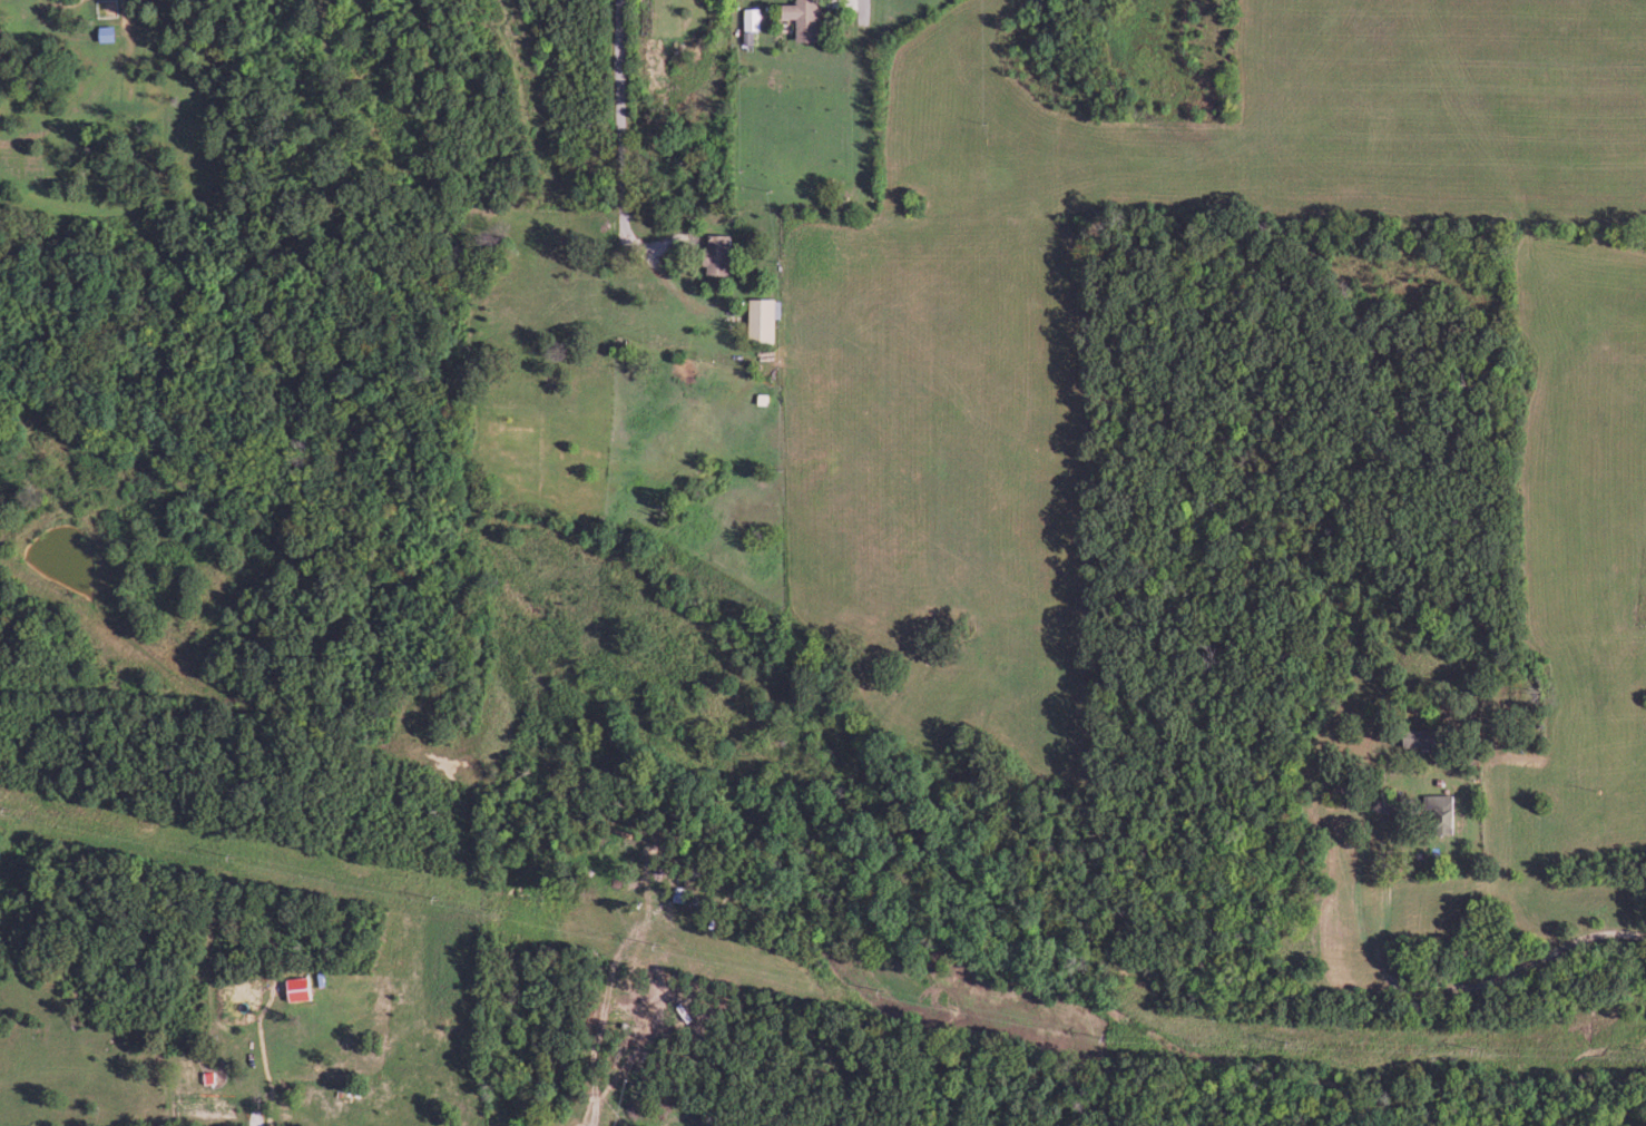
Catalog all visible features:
road: (350, 13)
road: (584, 74)
road: (625, 109)
building: (1421, 736)
building: (1442, 812)

